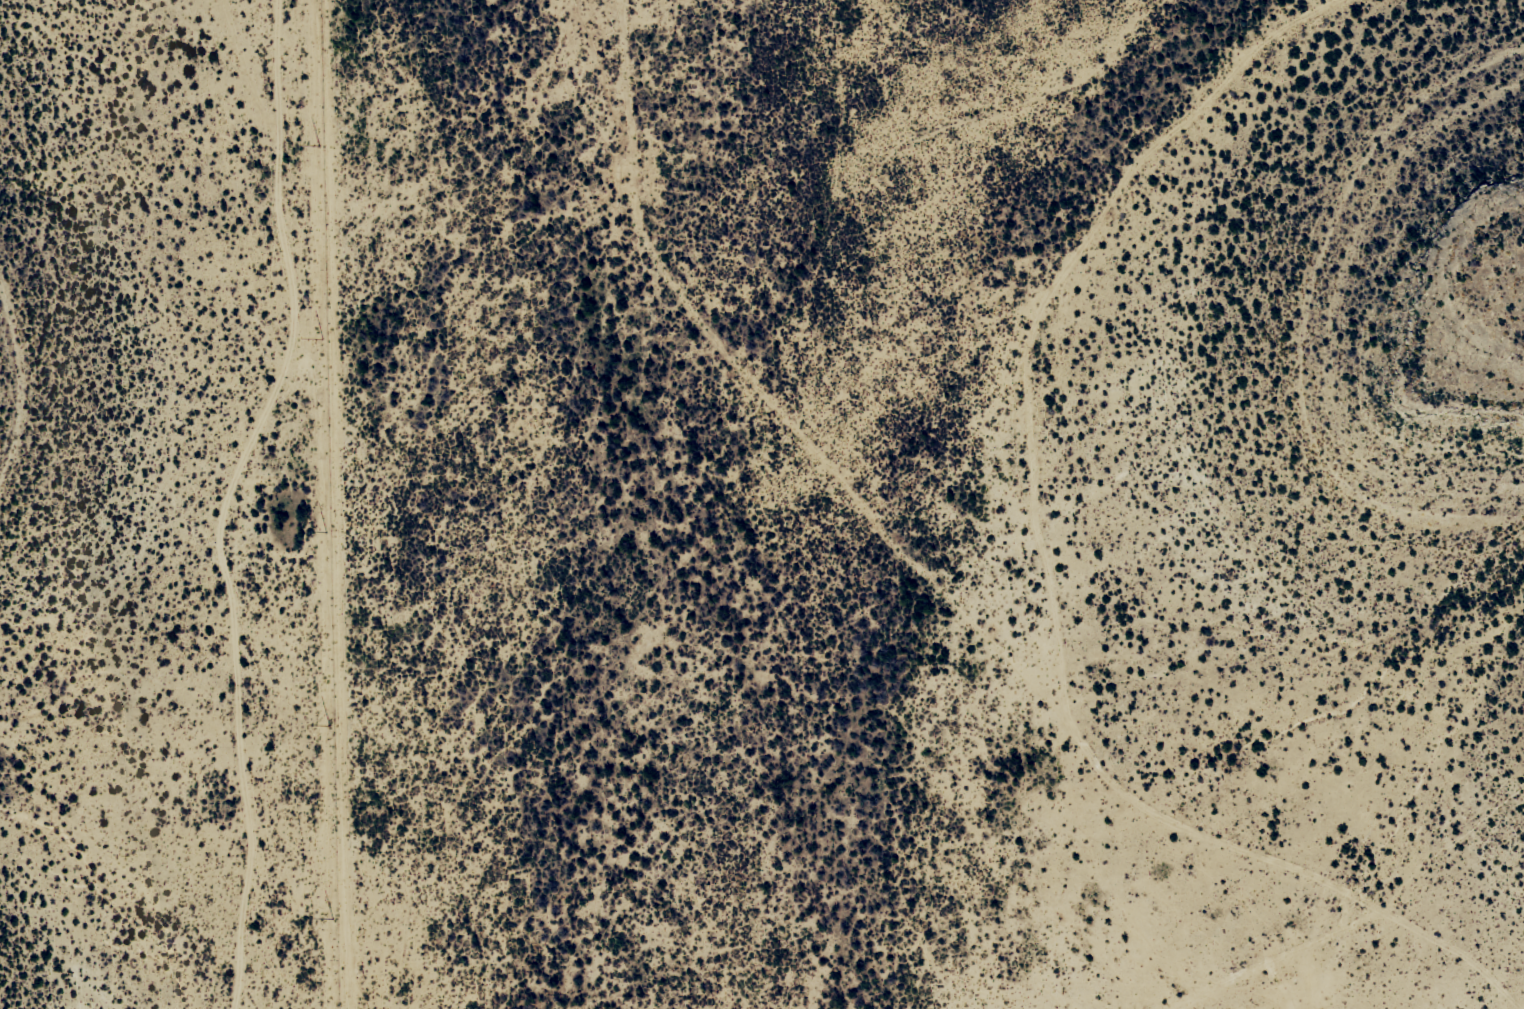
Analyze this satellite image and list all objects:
power tower: (318, 145)
power tower: (320, 336)
power tower: (328, 530)
power tower: (330, 722)
power tower: (335, 917)

